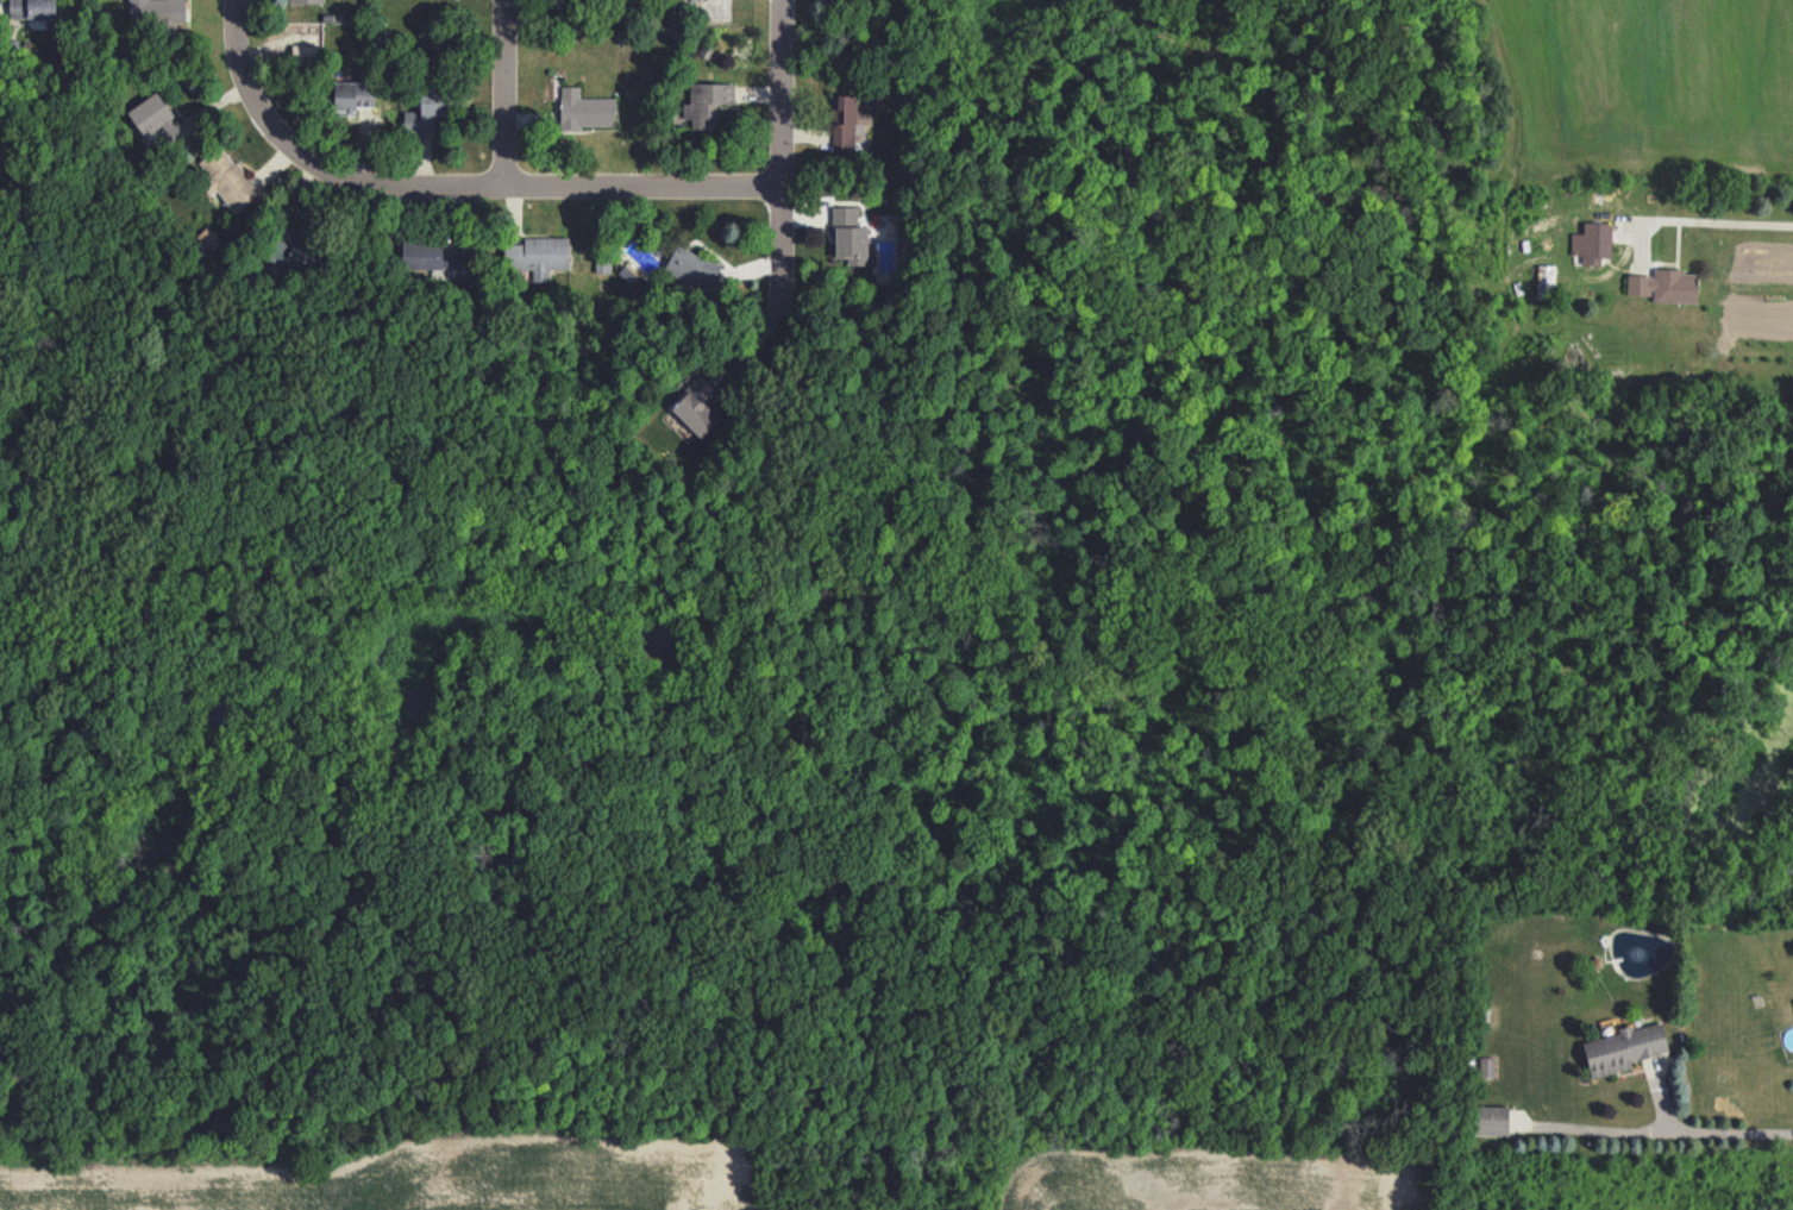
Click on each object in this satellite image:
building: (306, 1)
building: (842, 1)
building: (32, 8)
building: (157, 12)
road: (236, 50)
road: (506, 94)
building: (353, 95)
building: (707, 102)
building: (584, 109)
building: (427, 111)
building: (157, 118)
building: (846, 121)
road: (778, 155)
building: (227, 178)
road: (496, 188)
road: (1720, 219)
building: (850, 236)
building: (1592, 243)
building: (430, 253)
building: (538, 255)
building: (294, 258)
building: (694, 267)
building: (1546, 280)
building: (1665, 286)
building: (696, 407)
building: (1623, 1048)
building: (1486, 1067)
building: (1490, 1120)
road: (1697, 1130)
crop: (431, 1178)
crop: (1199, 1180)

